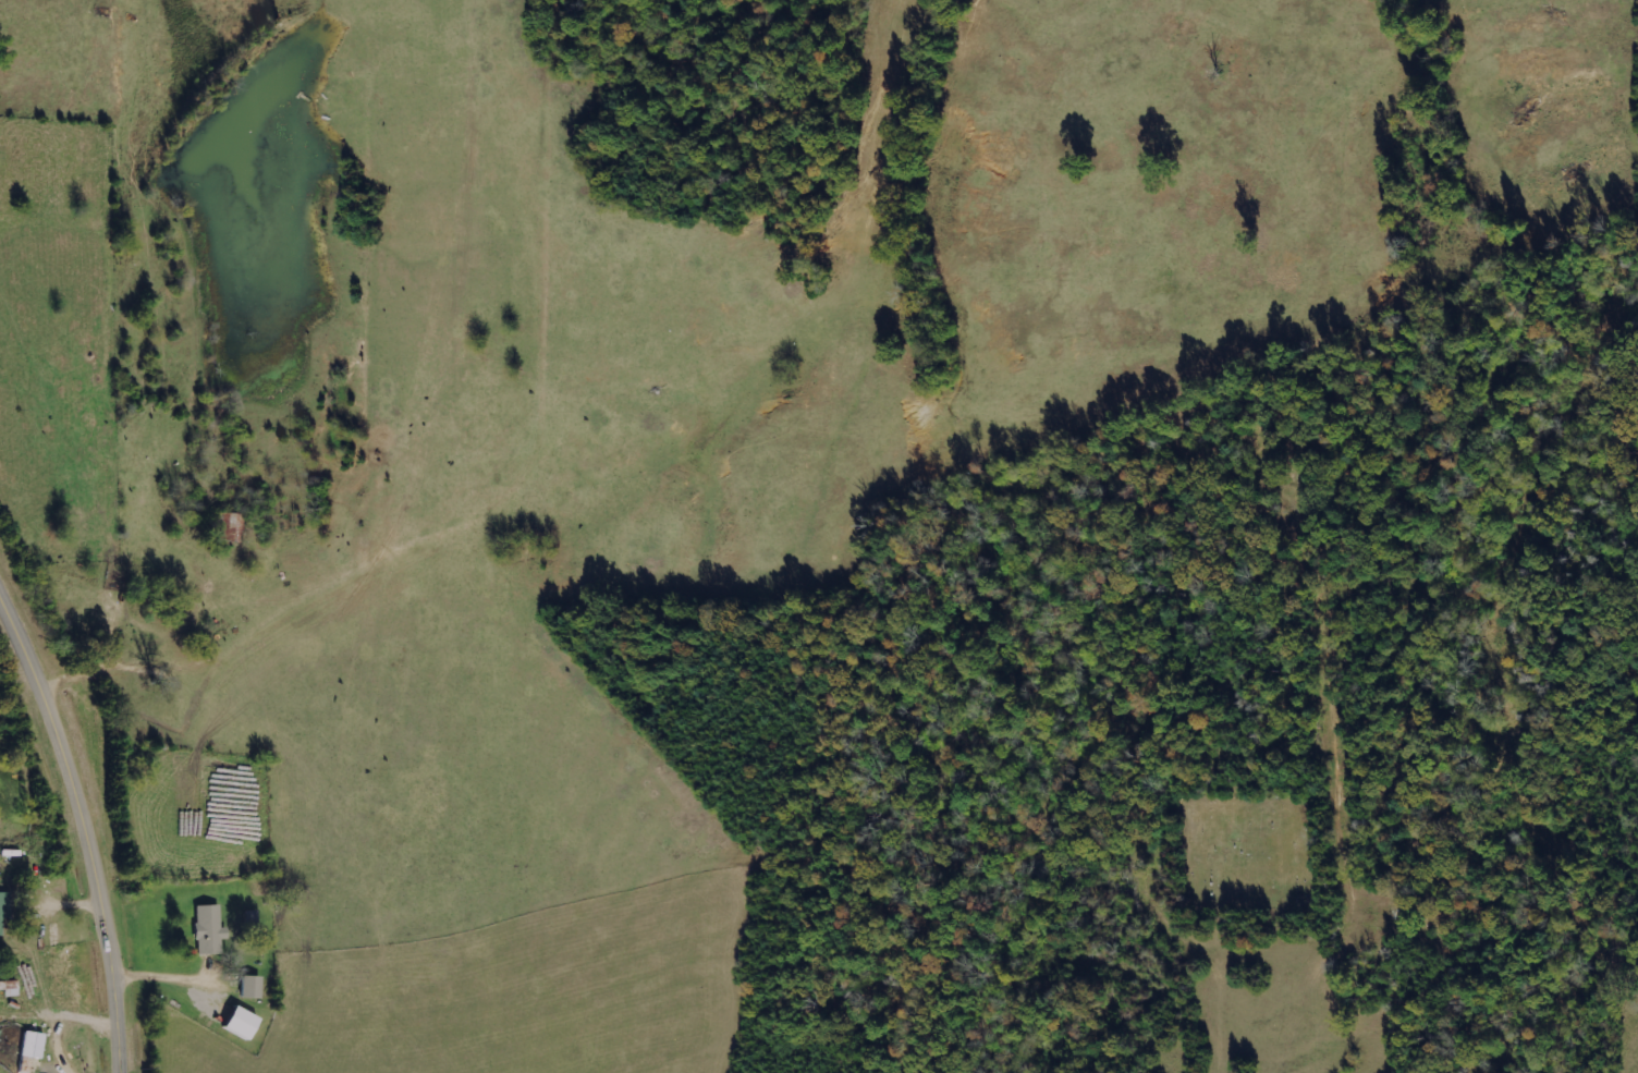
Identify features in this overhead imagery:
road: (80, 834)
park: (1245, 851)
building: (1, 914)
building: (209, 929)
building: (250, 986)
building: (241, 1022)
building: (33, 1044)

